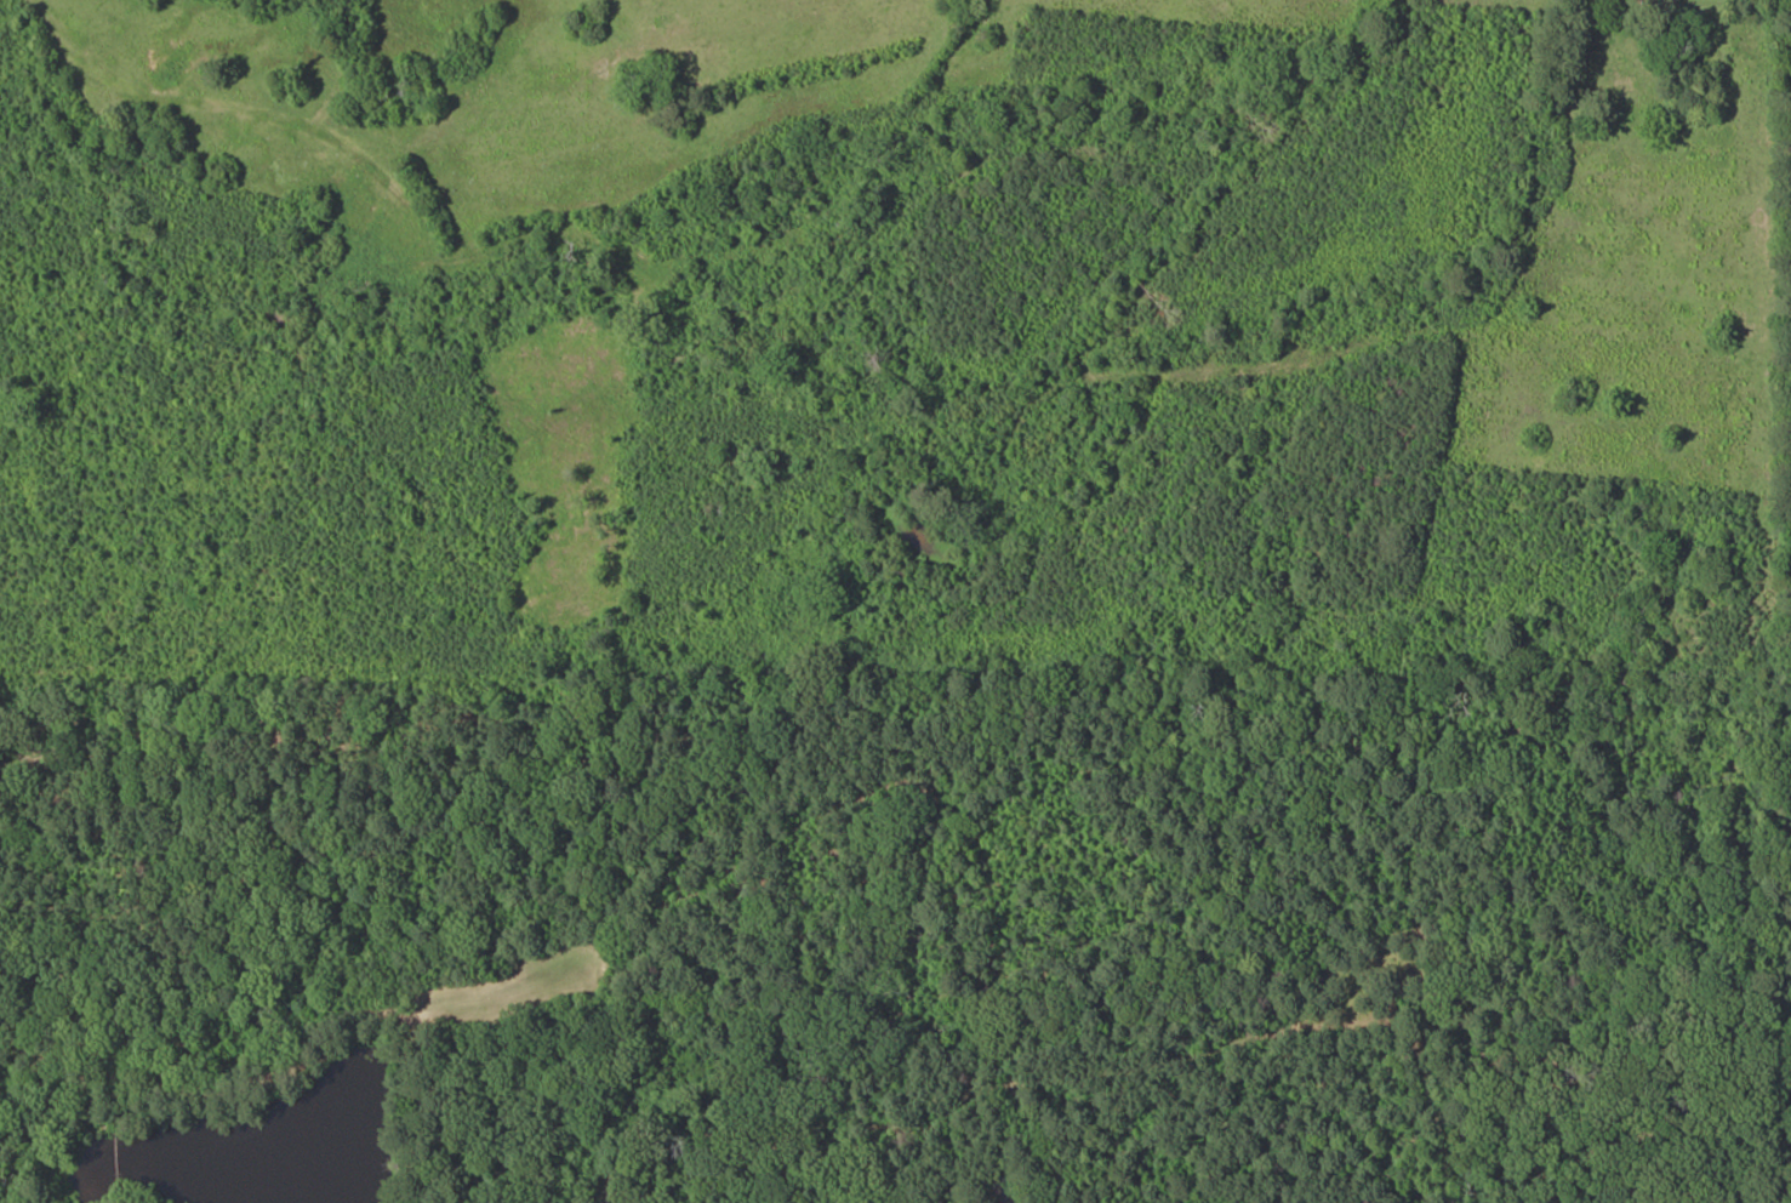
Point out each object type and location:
building: (393, 95)

